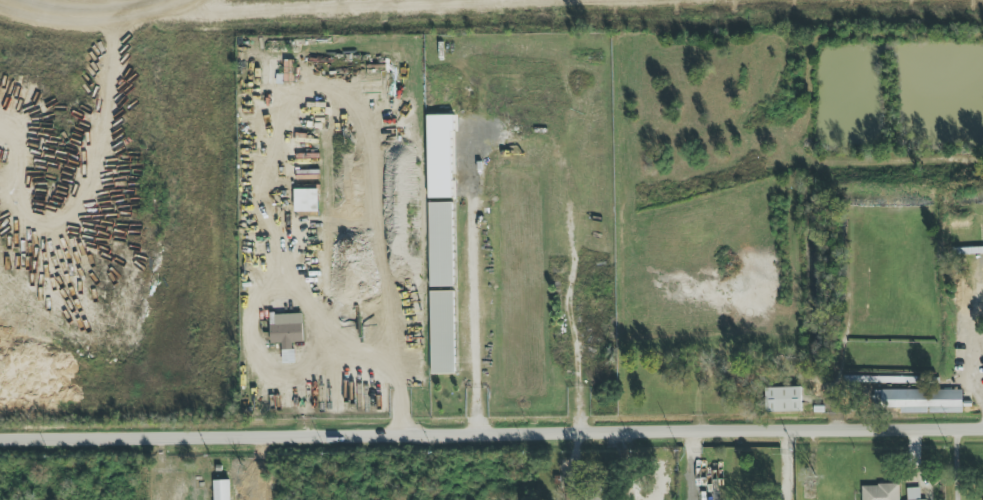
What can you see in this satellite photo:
landfill: (427, 11)
road: (280, 130)
road: (522, 138)
building: (439, 157)
building: (306, 200)
building: (440, 245)
building: (286, 330)
building: (442, 333)
building: (783, 400)
building: (920, 401)
road: (491, 431)
road: (955, 463)
road: (12, 469)
building: (221, 490)
building: (880, 492)
building: (912, 494)

